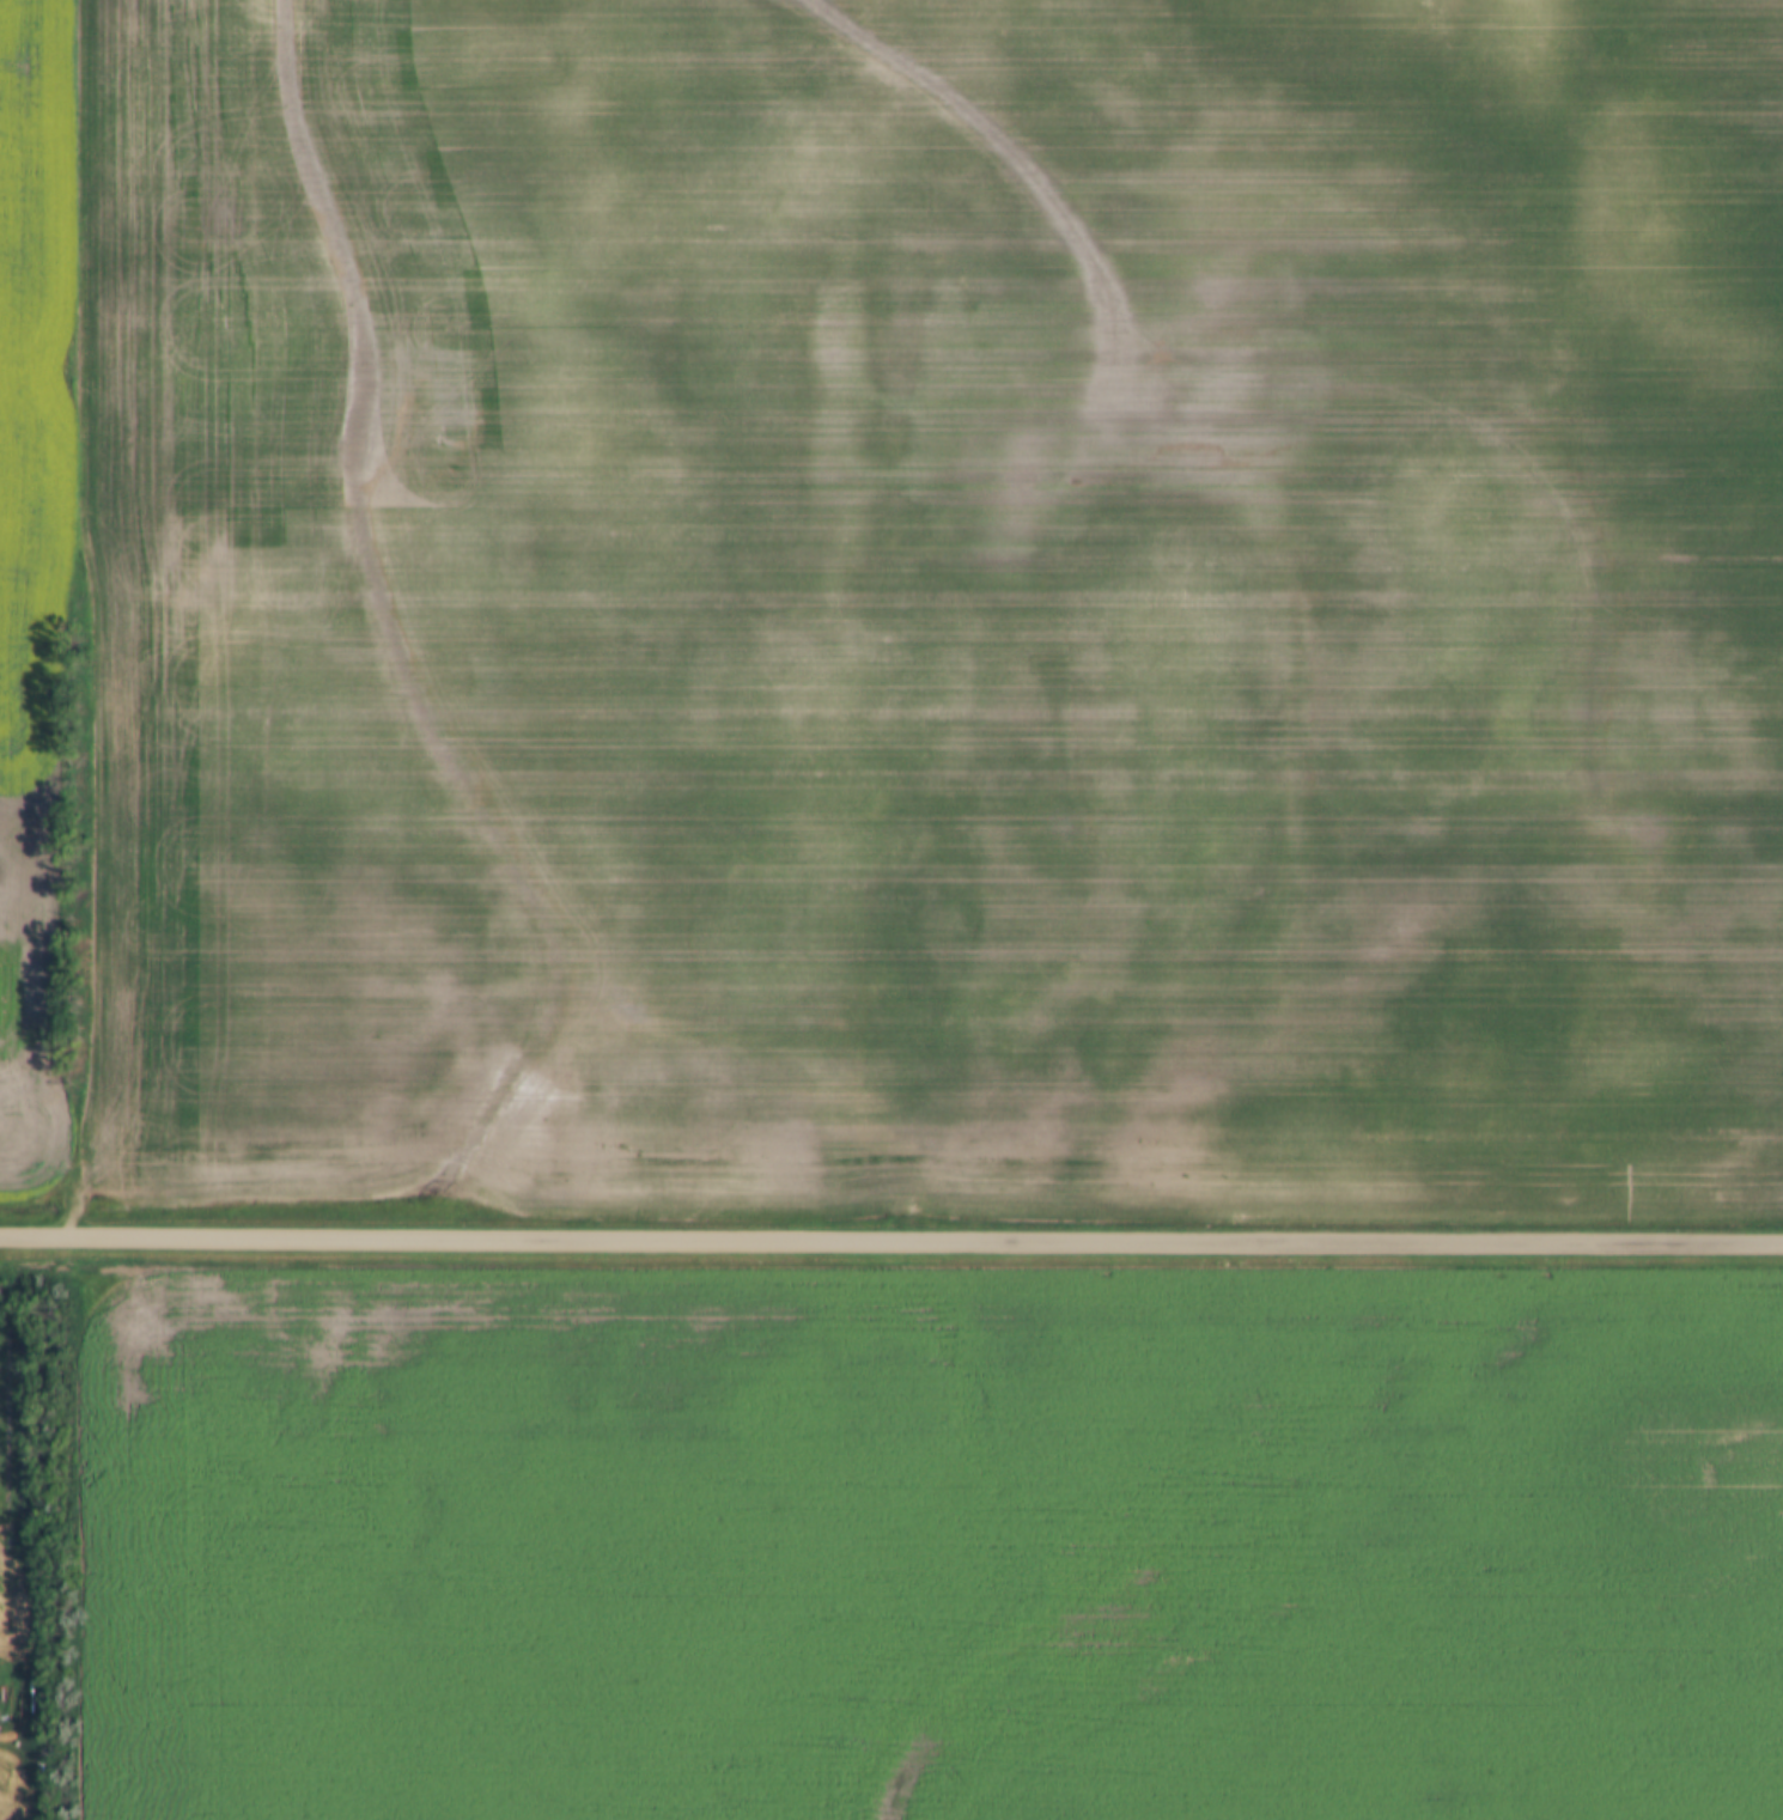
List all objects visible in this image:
road: (890, 1240)

